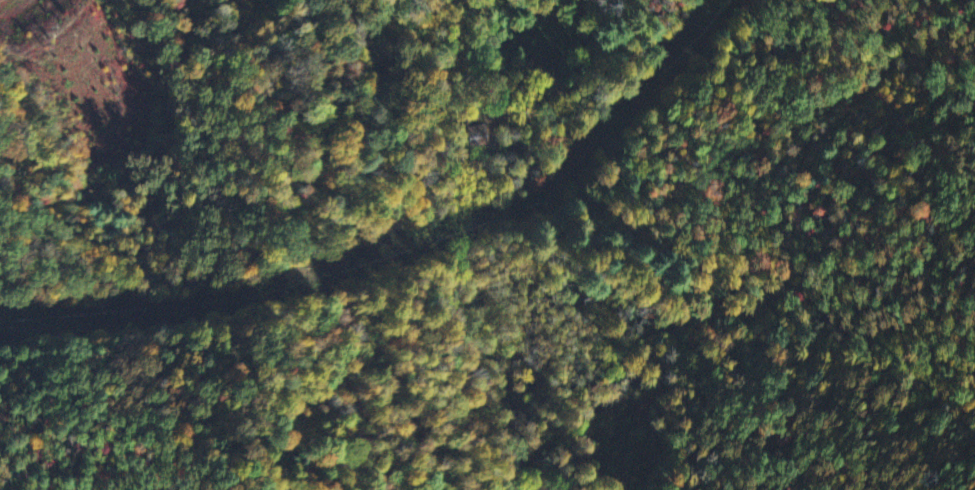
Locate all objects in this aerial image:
road: (406, 35)

